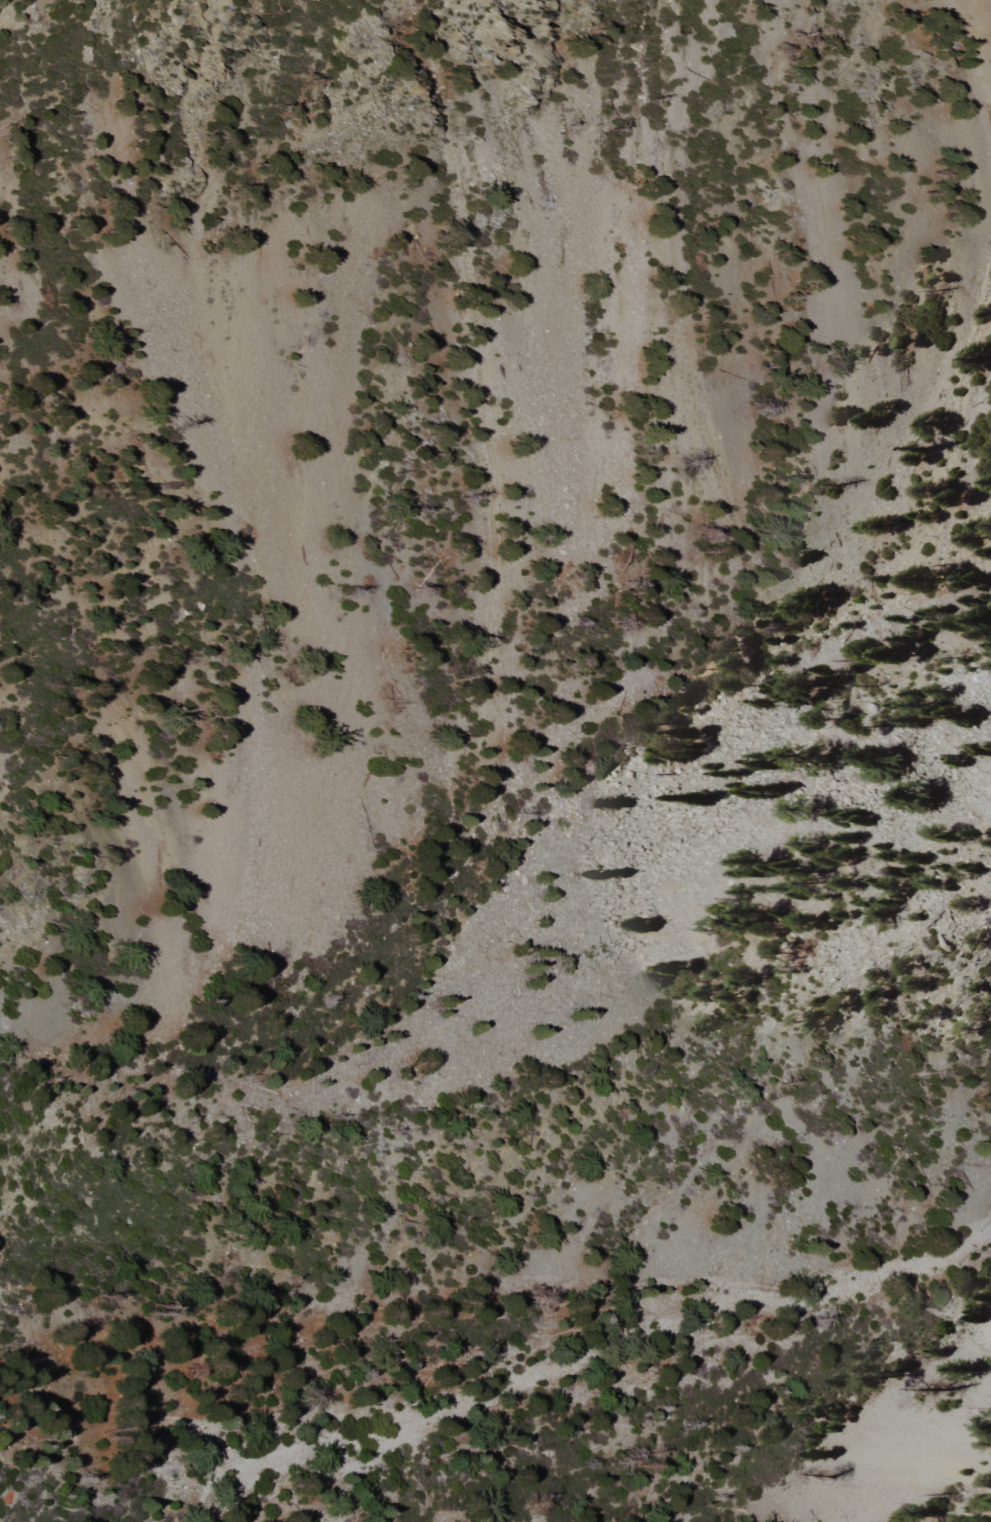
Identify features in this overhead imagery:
road: (135, 1413)
road: (17, 1465)
helipad: (8, 1500)

